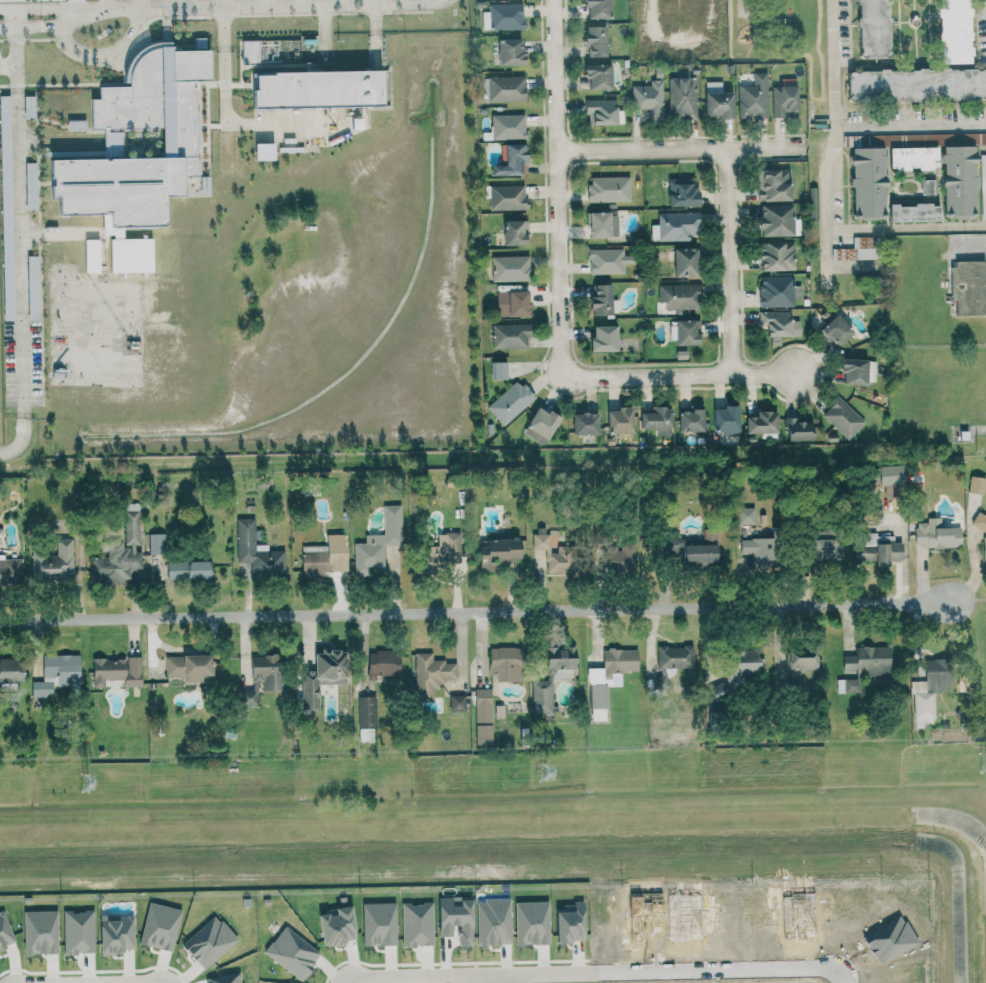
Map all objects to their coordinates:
road: (300, 2)
road: (339, 2)
road: (184, 3)
road: (263, 3)
road: (78, 4)
road: (105, 4)
road: (275, 5)
road: (53, 6)
building: (595, 8)
building: (502, 17)
road: (54, 26)
building: (874, 28)
road: (325, 29)
building: (954, 31)
road: (376, 33)
building: (593, 40)
road: (109, 51)
building: (247, 51)
building: (508, 51)
road: (6, 65)
building: (596, 75)
building: (917, 86)
building: (505, 88)
building: (314, 89)
building: (752, 97)
building: (647, 98)
building: (716, 100)
building: (783, 100)
building: (27, 107)
building: (602, 111)
road: (833, 114)
road: (231, 122)
road: (909, 126)
building: (506, 127)
building: (136, 140)
road: (678, 145)
building: (261, 151)
building: (4, 154)
building: (914, 158)
building: (508, 160)
road: (14, 168)
building: (959, 181)
building: (868, 182)
road: (556, 183)
building: (772, 184)
building: (982, 185)
building: (29, 186)
building: (607, 189)
building: (680, 192)
building: (505, 197)
building: (915, 212)
building: (773, 220)
building: (601, 224)
building: (674, 226)
road: (911, 226)
building: (514, 232)
building: (863, 247)
road: (972, 251)
building: (775, 254)
building: (609, 260)
building: (684, 260)
road: (728, 260)
building: (510, 268)
building: (969, 285)
building: (776, 292)
building: (600, 296)
building: (512, 303)
building: (783, 327)
building: (836, 331)
building: (511, 335)
building: (604, 337)
building: (499, 370)
building: (858, 370)
road: (682, 375)
road: (19, 396)
building: (510, 402)
building: (843, 417)
building: (691, 419)
building: (620, 420)
building: (658, 420)
building: (726, 420)
building: (762, 422)
building: (585, 423)
building: (541, 425)
building: (799, 429)
building: (890, 474)
building: (977, 485)
building: (746, 515)
building: (936, 534)
building: (157, 543)
building: (379, 544)
building: (667, 545)
building: (984, 545)
building: (825, 546)
building: (877, 549)
building: (701, 550)
building: (759, 550)
building: (121, 551)
building: (443, 552)
building: (258, 553)
building: (498, 553)
building: (554, 553)
building: (621, 556)
building: (325, 557)
building: (54, 562)
building: (188, 570)
building: (10, 571)
road: (476, 615)
building: (675, 657)
building: (801, 659)
building: (507, 663)
building: (383, 664)
building: (865, 666)
building: (191, 667)
building: (63, 669)
building: (117, 671)
building: (269, 671)
building: (10, 672)
building: (431, 674)
building: (322, 676)
building: (553, 677)
building: (609, 678)
building: (42, 689)
building: (930, 690)
building: (250, 696)
building: (457, 703)
building: (483, 716)
building: (367, 719)
power tower: (983, 762)
power tower: (542, 772)
power tower: (84, 782)
building: (379, 924)
building: (417, 924)
building: (160, 926)
building: (336, 926)
building: (5, 932)
building: (79, 932)
building: (41, 933)
building: (116, 933)
building: (209, 941)
road: (721, 975)
road: (469, 976)
road: (513, 979)
road: (344, 981)

